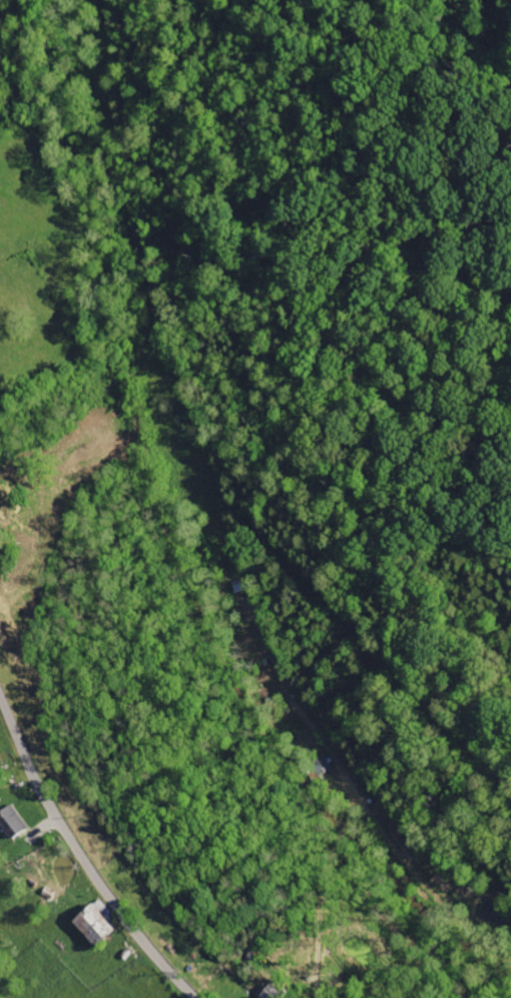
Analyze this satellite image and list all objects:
building: (11, 822)
road: (82, 856)
building: (92, 924)
building: (271, 992)

